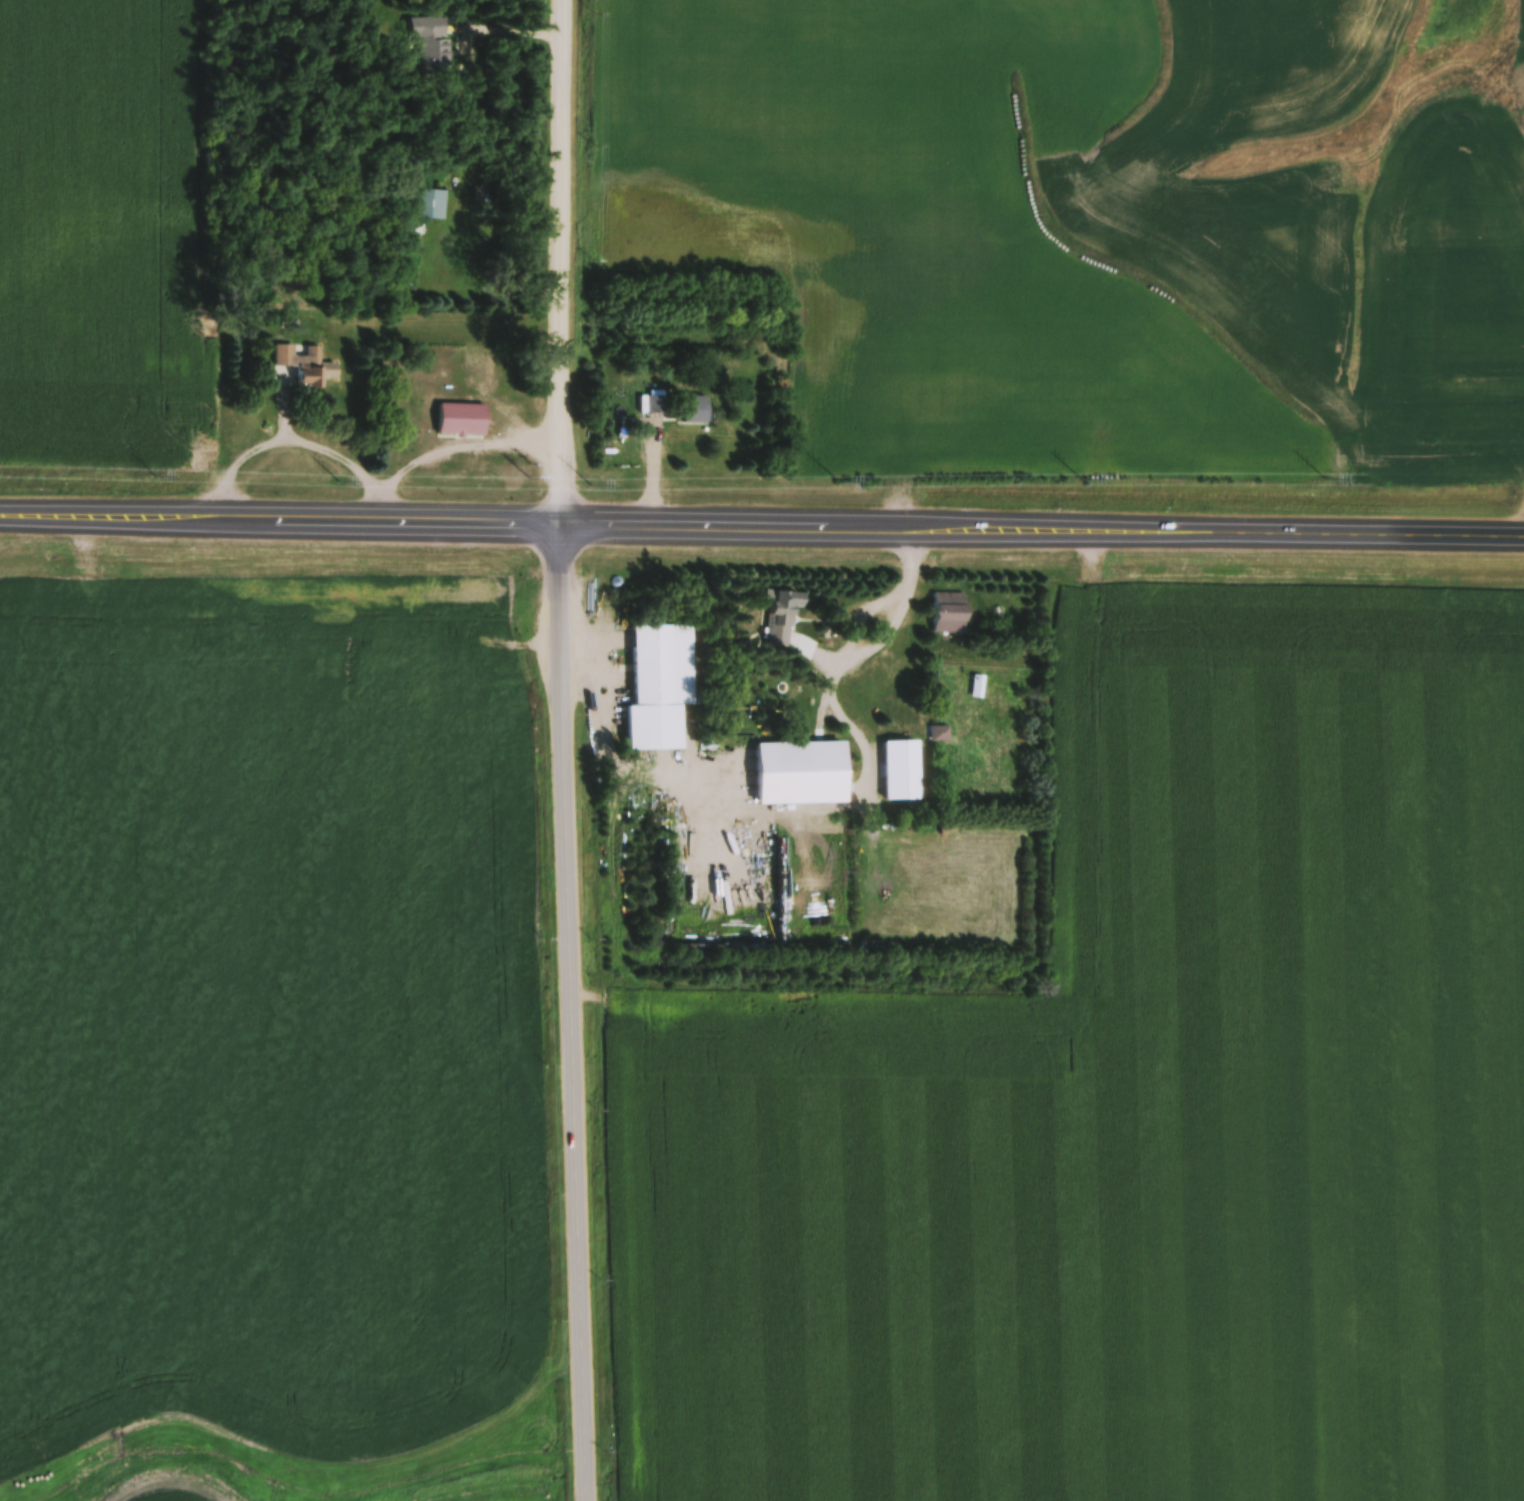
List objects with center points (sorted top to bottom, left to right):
building: (438, 40)
building: (428, 204)
road: (564, 260)
building: (285, 356)
building: (479, 367)
building: (315, 370)
building: (657, 405)
building: (696, 410)
building: (463, 420)
road: (292, 443)
road: (459, 449)
power tower: (530, 487)
road: (761, 523)
building: (949, 613)
building: (779, 619)
building: (833, 646)
building: (659, 687)
road: (841, 716)
building: (890, 746)
road: (577, 1011)

